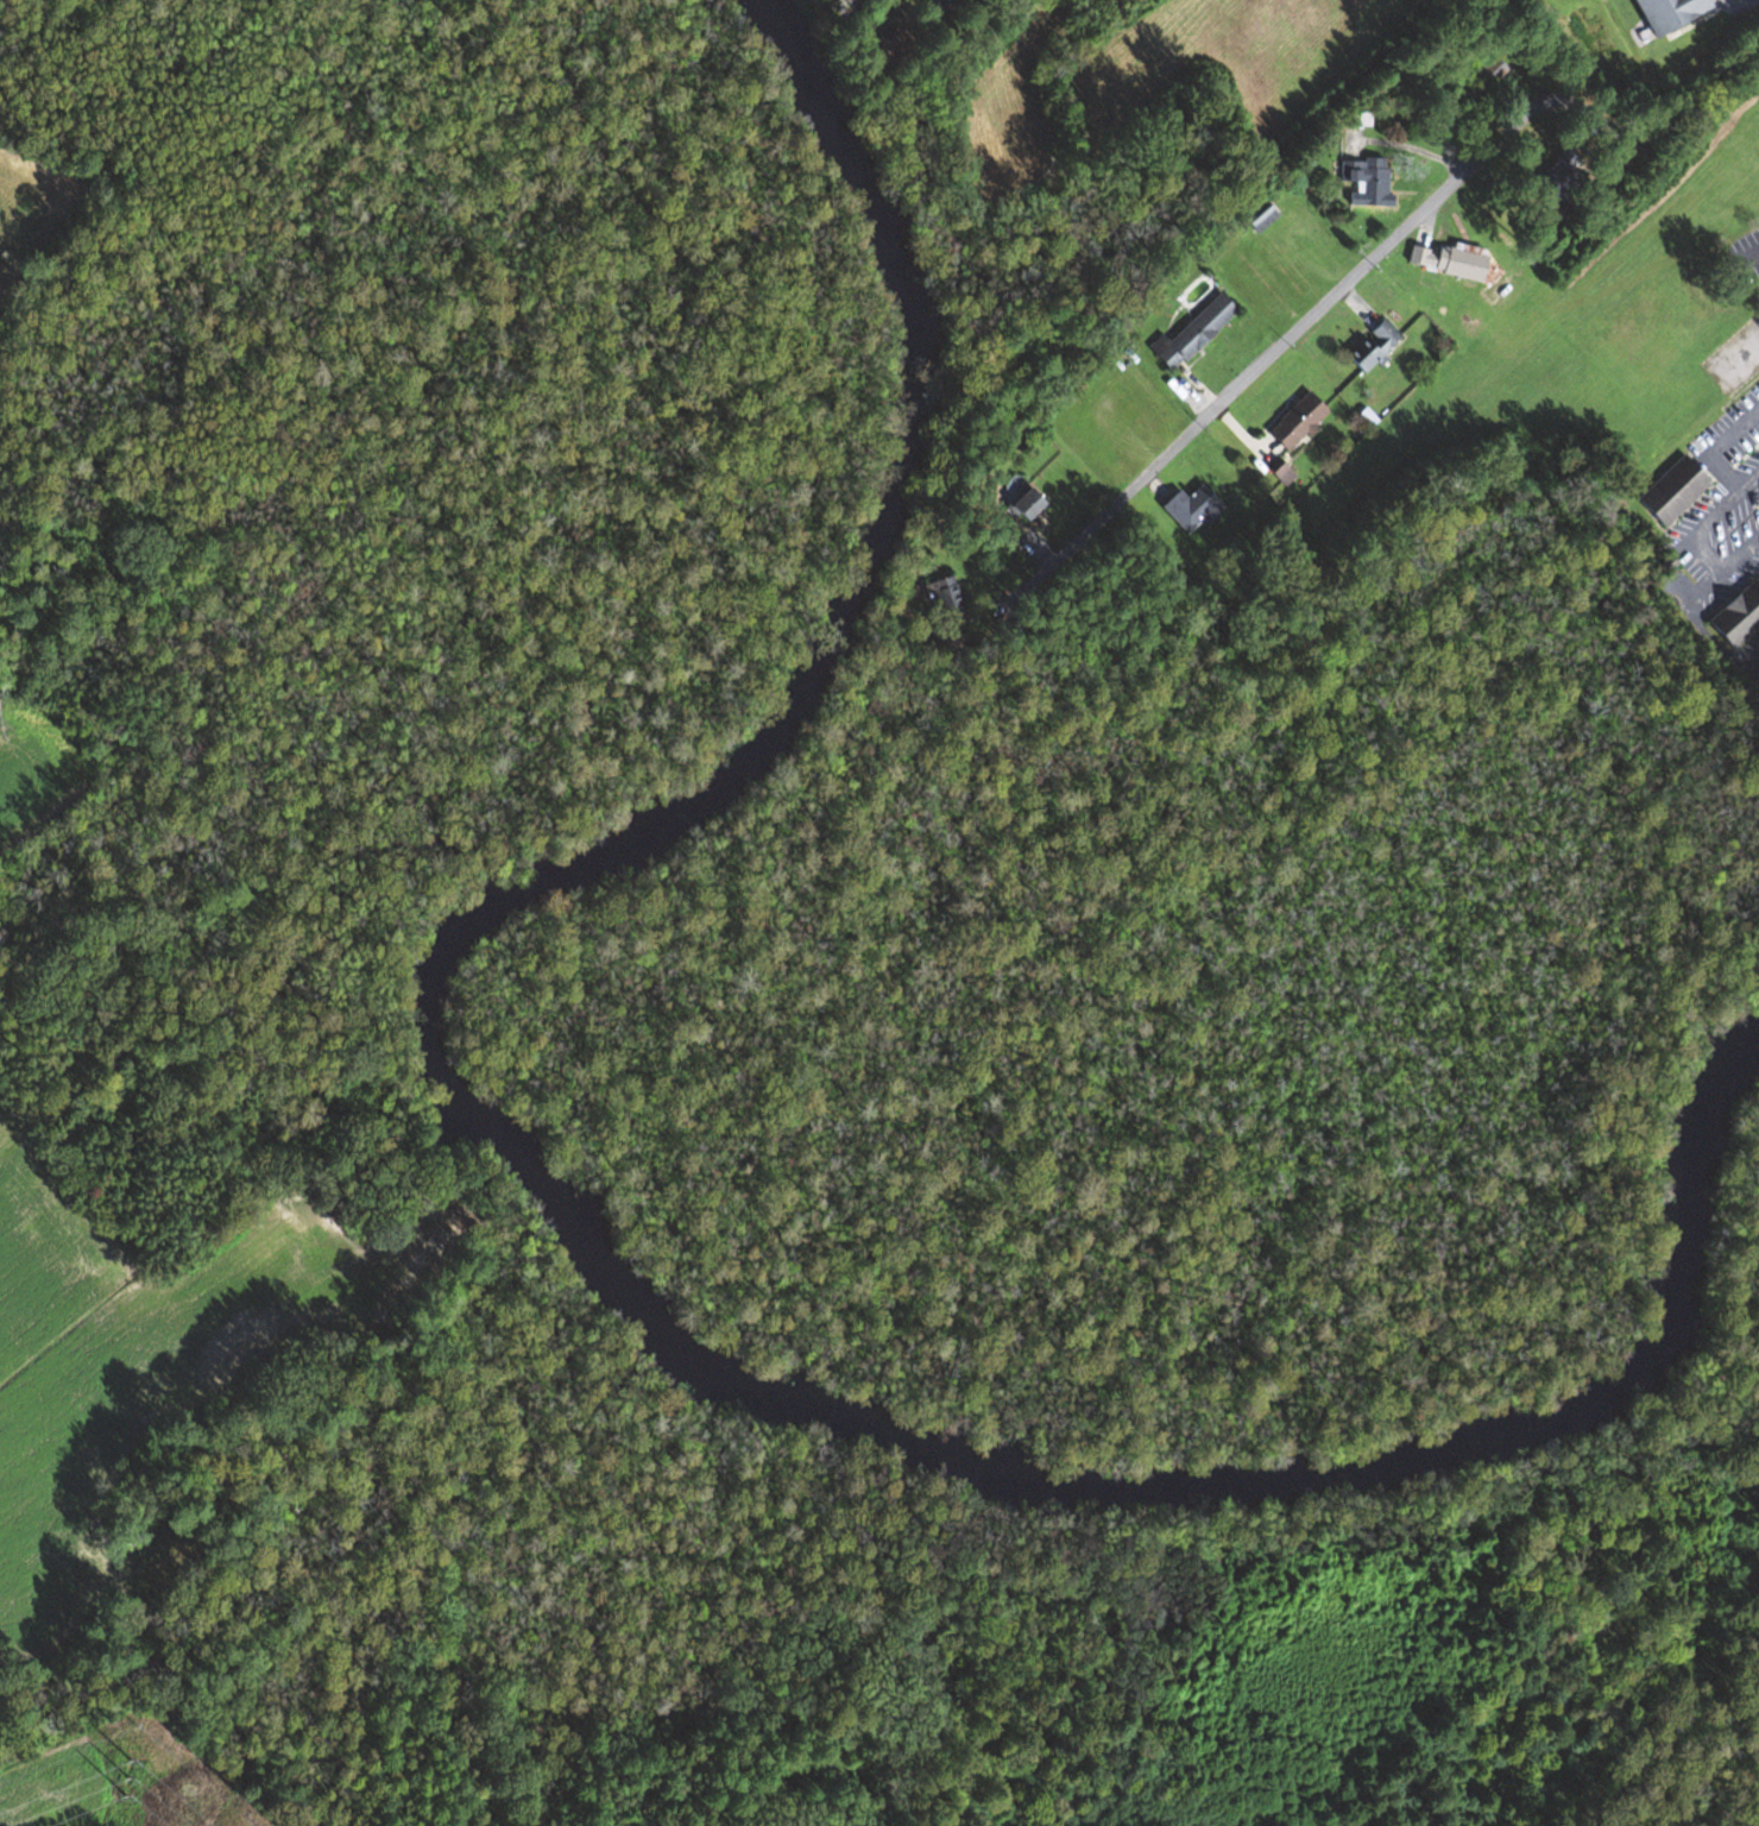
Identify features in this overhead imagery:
road: (843, 6)
building: (1710, 29)
building: (1479, 81)
building: (1363, 181)
building: (1550, 182)
building: (1259, 218)
road: (1377, 247)
building: (1449, 262)
building: (1190, 333)
building: (1370, 346)
building: (1293, 421)
building: (1670, 491)
building: (1022, 503)
building: (1190, 508)
building: (941, 593)
building: (1735, 616)
power tower: (126, 1769)

